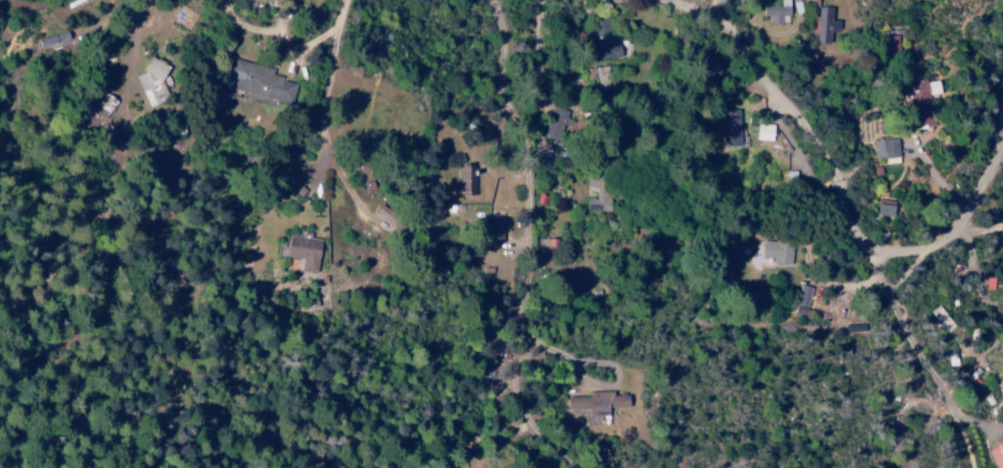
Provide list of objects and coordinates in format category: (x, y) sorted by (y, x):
building: (269, 0)
building: (741, 1)
building: (775, 12)
building: (823, 24)
building: (49, 39)
building: (599, 41)
building: (889, 44)
building: (150, 81)
building: (257, 82)
road: (775, 99)
building: (919, 100)
building: (100, 106)
building: (554, 124)
building: (729, 127)
building: (762, 132)
building: (885, 150)
building: (467, 180)
building: (882, 210)
road: (375, 219)
road: (959, 223)
building: (488, 230)
building: (545, 245)
building: (776, 250)
building: (301, 251)
building: (801, 295)
road: (919, 358)
building: (595, 402)
building: (996, 454)

